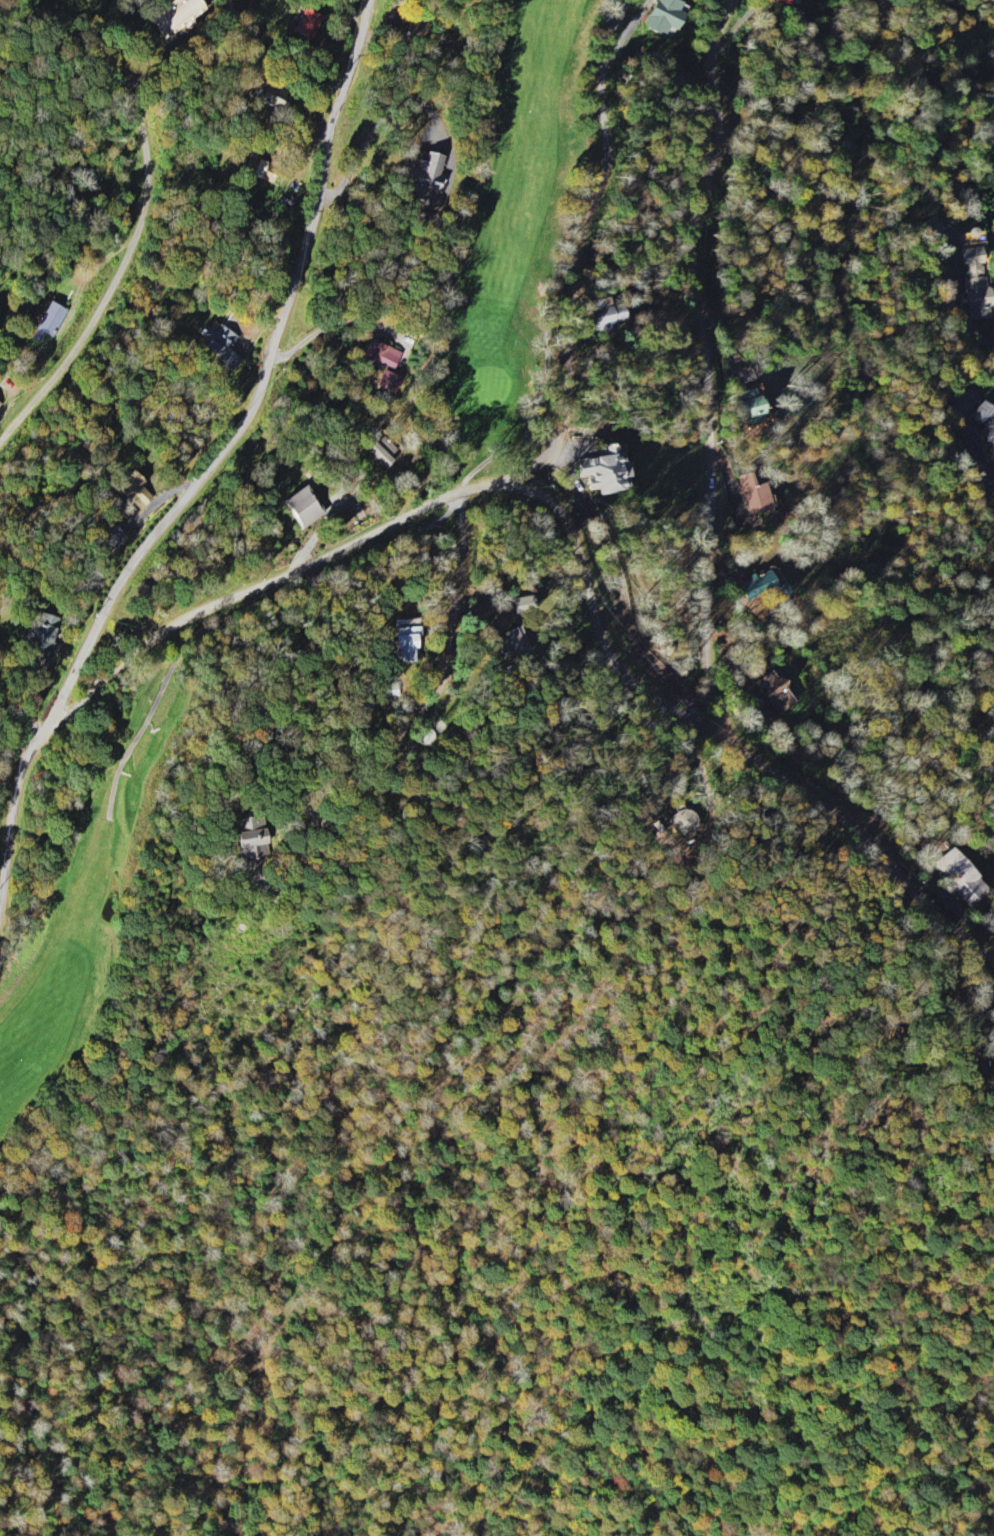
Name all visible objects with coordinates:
building: (788, 1)
building: (659, 14)
building: (305, 24)
building: (419, 176)
road: (571, 257)
road: (124, 262)
building: (971, 282)
building: (602, 315)
building: (49, 319)
building: (377, 355)
road: (705, 362)
building: (0, 403)
building: (748, 410)
building: (984, 431)
road: (213, 461)
building: (597, 471)
building: (751, 493)
building: (138, 495)
building: (298, 506)
building: (128, 519)
road: (574, 534)
building: (109, 535)
building: (757, 589)
building: (518, 604)
road: (450, 627)
building: (512, 636)
building: (399, 637)
building: (772, 692)
road: (326, 812)
building: (245, 843)
building: (955, 877)
road: (4, 938)

